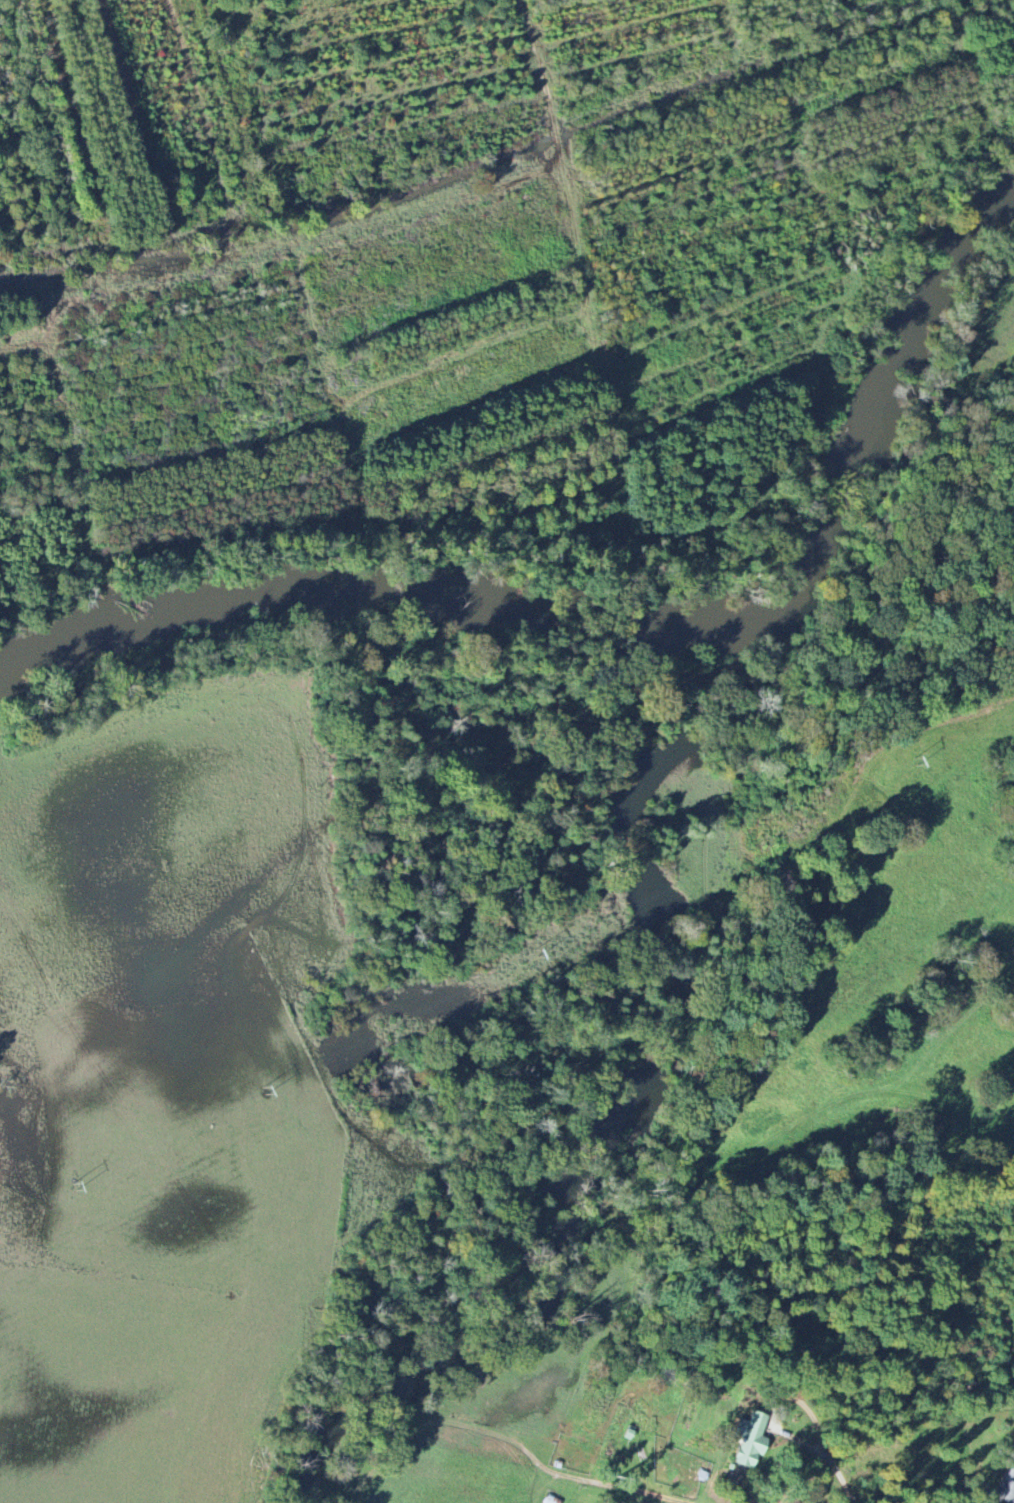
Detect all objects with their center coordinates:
river: (887, 400)
river: (383, 595)
river: (649, 1099)
building: (752, 1441)
road: (837, 1473)
building: (1007, 1489)

